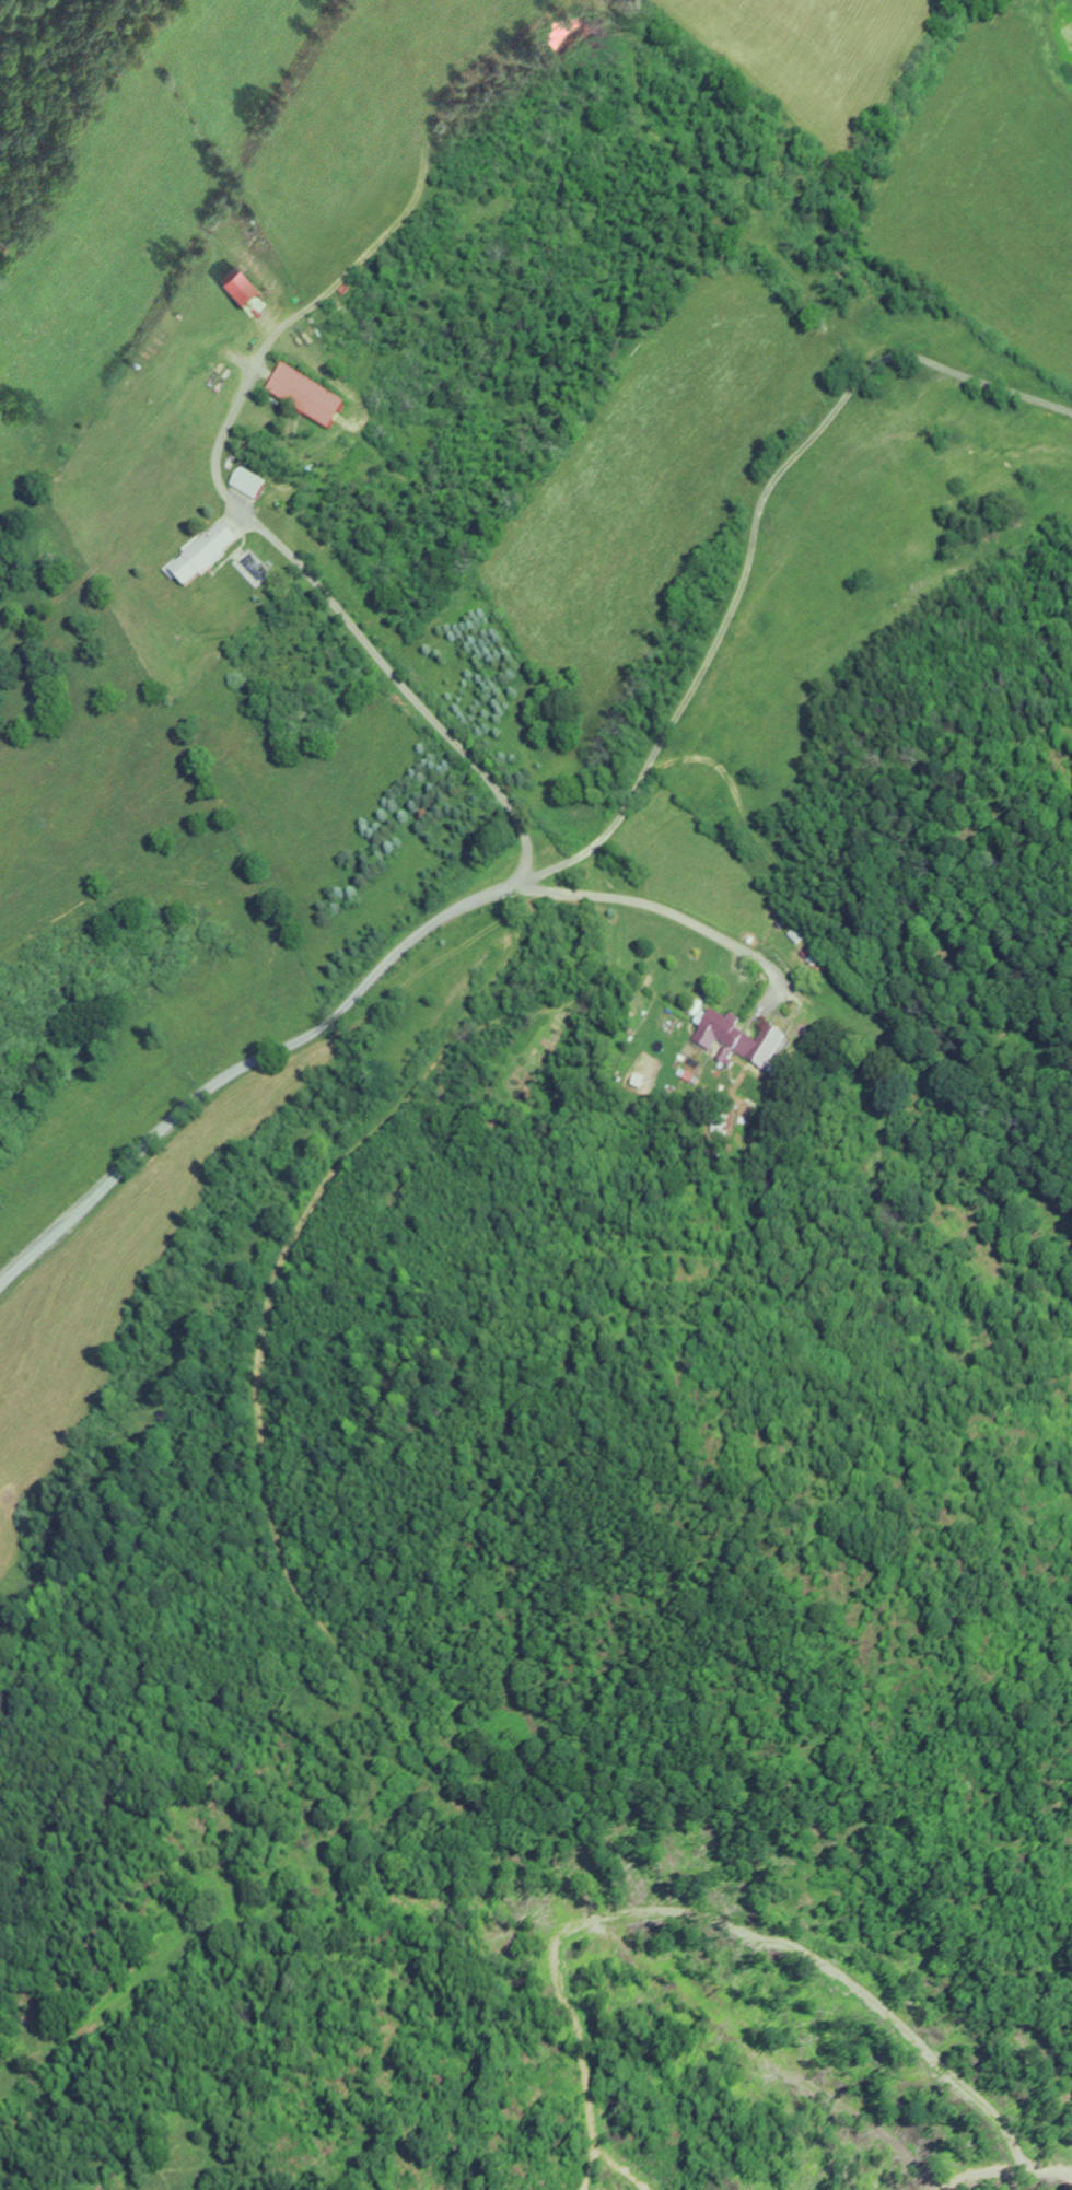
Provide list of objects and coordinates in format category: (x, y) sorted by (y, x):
road: (750, 541)
road: (353, 627)
road: (657, 907)
road: (245, 1062)

